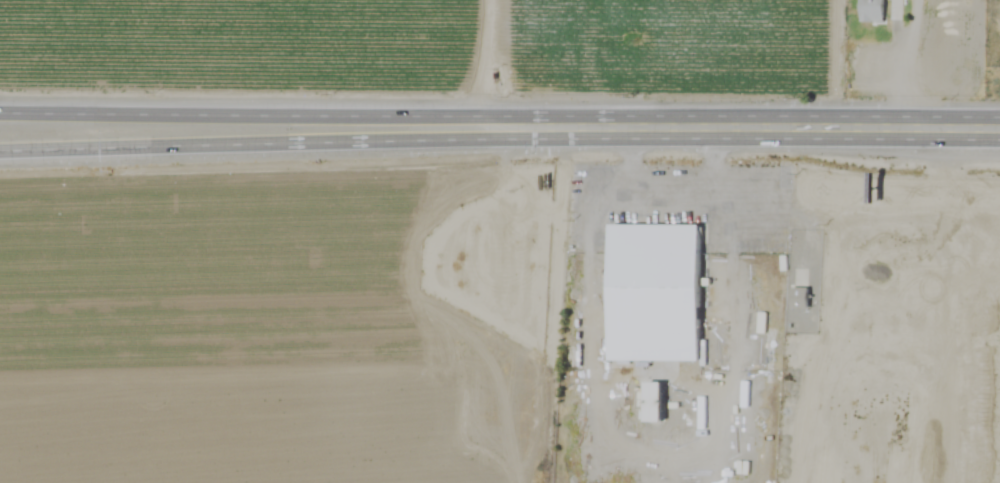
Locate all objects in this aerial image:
building: (870, 11)
road: (251, 118)
road: (643, 130)
road: (892, 131)
road: (251, 141)
crop: (500, 241)
building: (662, 294)
building: (773, 352)

